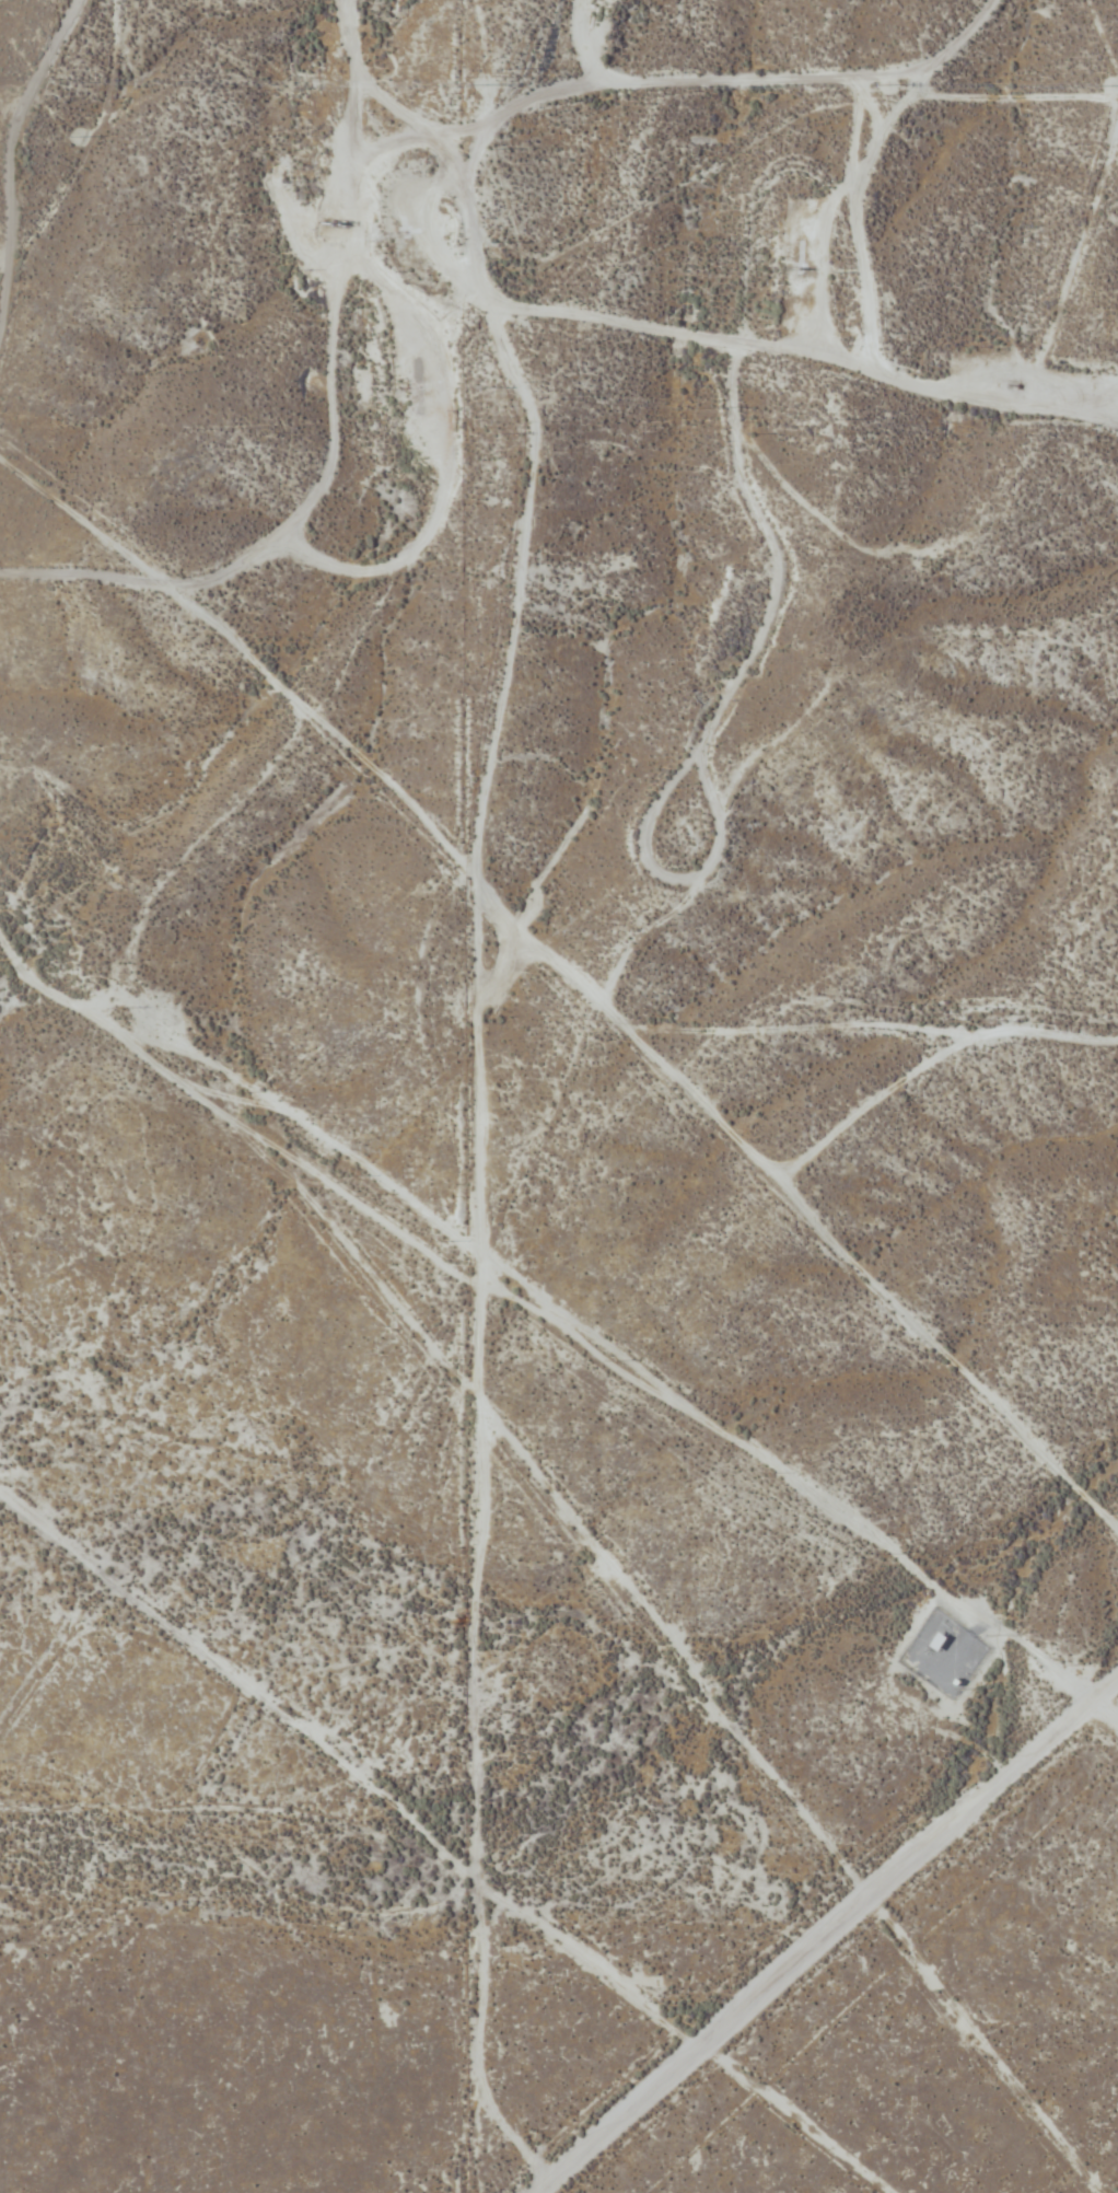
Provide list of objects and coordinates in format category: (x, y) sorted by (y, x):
road: (0, 0)
road: (422, 210)
road: (820, 357)
road: (604, 997)
building: (939, 1641)
road: (853, 1949)

